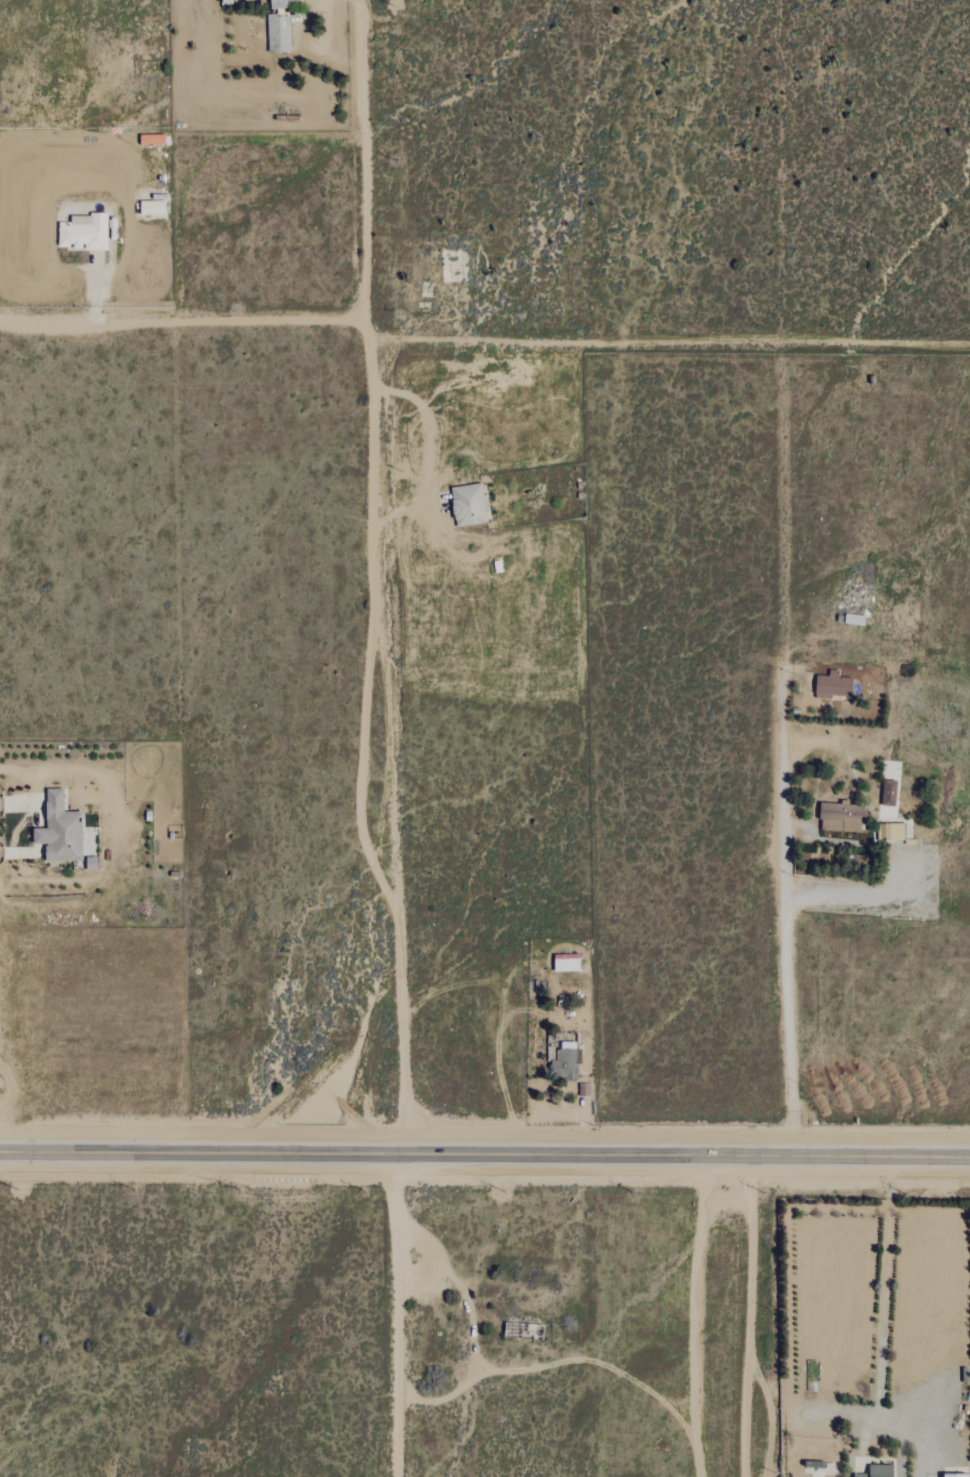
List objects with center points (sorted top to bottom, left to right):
building: (278, 4)
building: (278, 34)
road: (231, 126)
building: (152, 207)
building: (84, 232)
road: (94, 290)
road: (482, 342)
road: (436, 466)
building: (468, 505)
road: (505, 544)
road: (373, 576)
building: (832, 687)
building: (888, 793)
road: (23, 795)
building: (841, 817)
road: (36, 822)
building: (60, 830)
building: (891, 832)
road: (22, 844)
road: (906, 867)
road: (787, 911)
building: (564, 1065)
road: (485, 1154)
road: (464, 1295)
road: (882, 1306)
road: (398, 1315)
road: (696, 1316)
road: (747, 1317)
road: (556, 1363)
building: (955, 1475)

